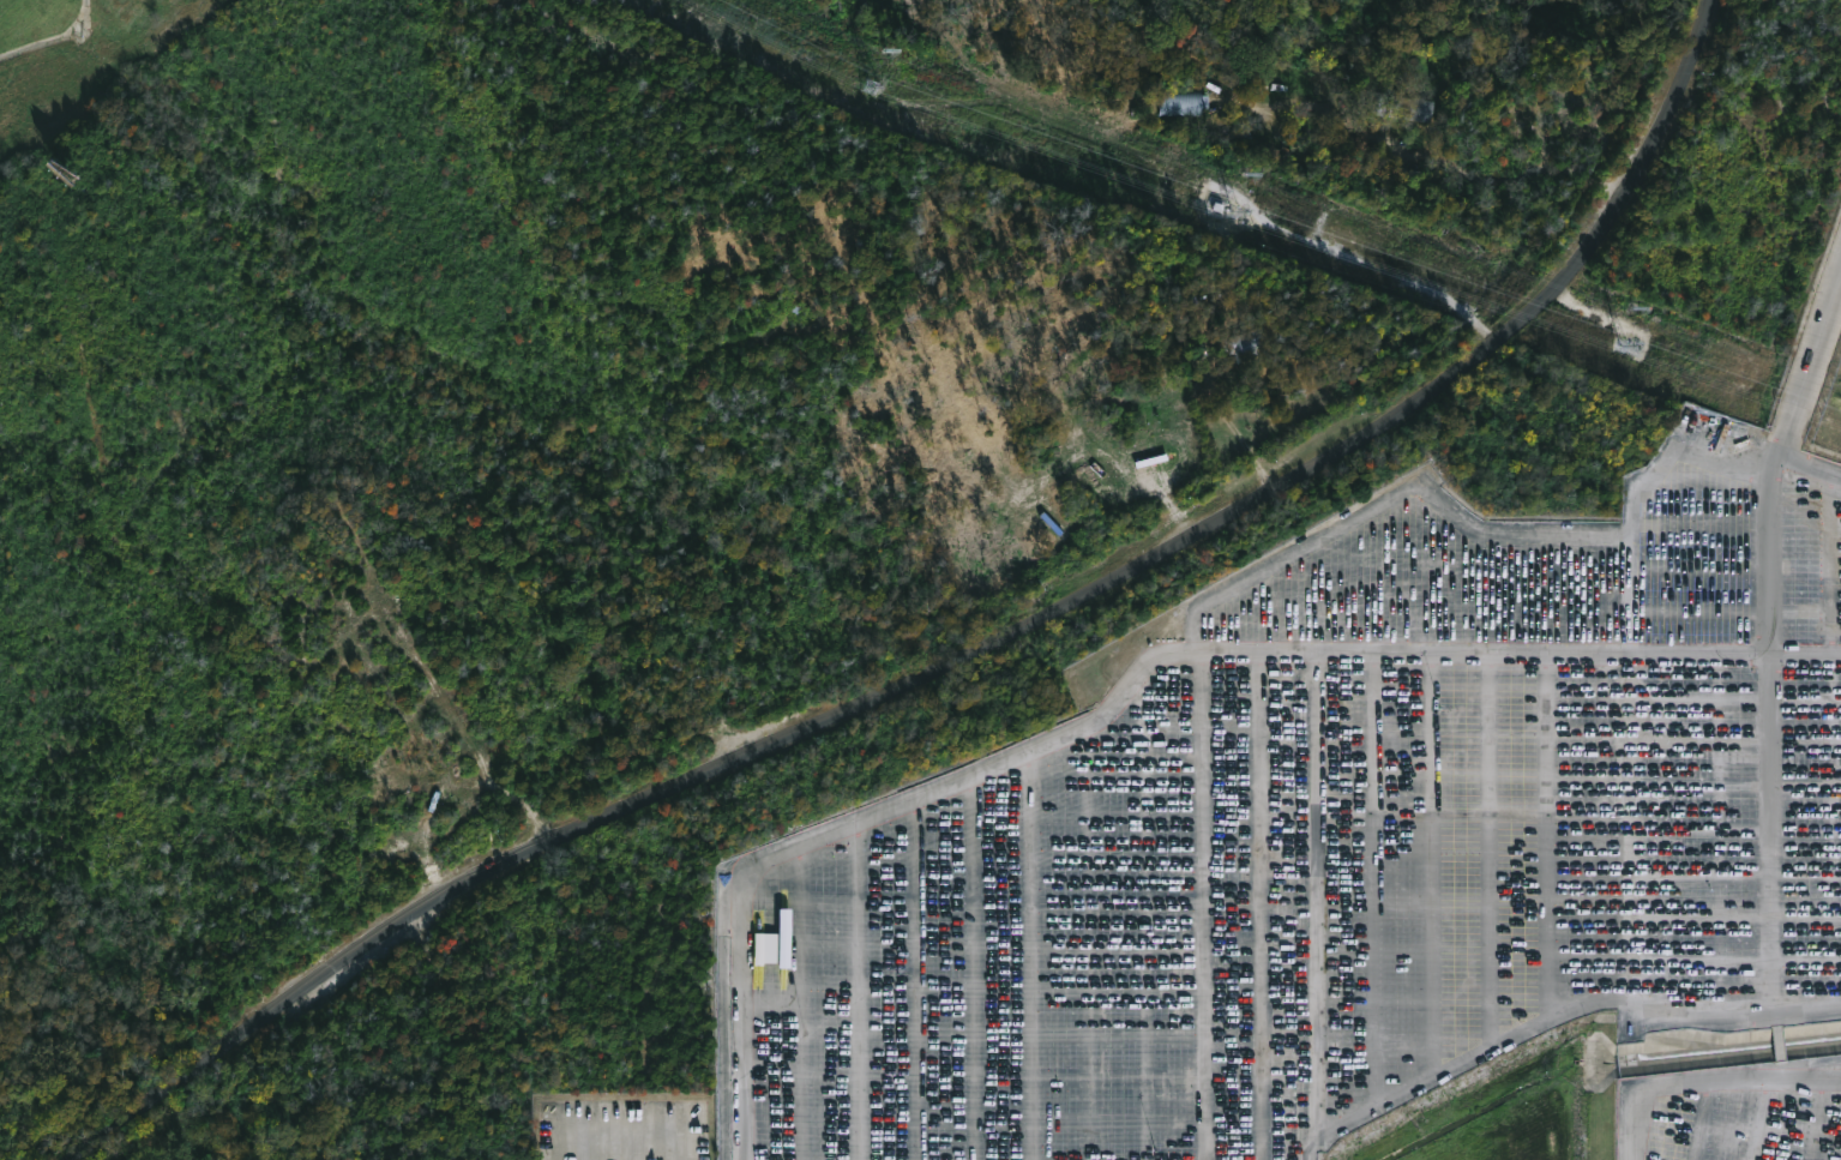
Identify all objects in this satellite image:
power tower: (897, 53)
building: (1187, 103)
building: (1414, 109)
power tower: (1222, 179)
building: (1246, 347)
road: (1806, 367)
road: (1805, 479)
road: (1470, 522)
road: (969, 661)
road: (1130, 685)
road: (1770, 738)
road: (1834, 746)
road: (1605, 827)
road: (1719, 835)
road: (1548, 836)
road: (1663, 836)
road: (1490, 852)
road: (1433, 865)
road: (1376, 880)
road: (1317, 896)
road: (1202, 907)
road: (1257, 907)
road: (1143, 916)
building: (783, 938)
building: (764, 948)
road: (1039, 951)
road: (981, 963)
road: (925, 976)
road: (865, 987)
road: (1556, 1016)
road: (1776, 1017)
road: (1779, 1044)
road: (1781, 1069)
road: (1701, 1078)

